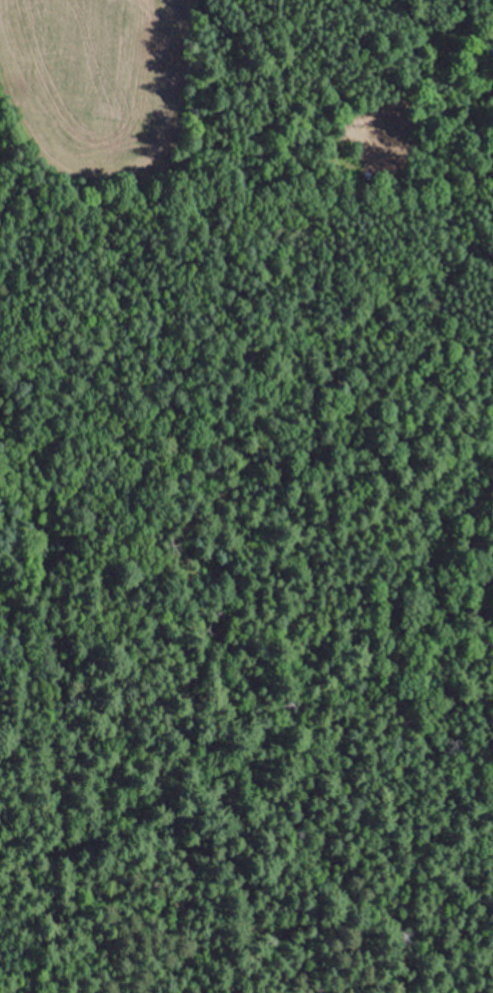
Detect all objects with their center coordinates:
crop: (87, 78)

